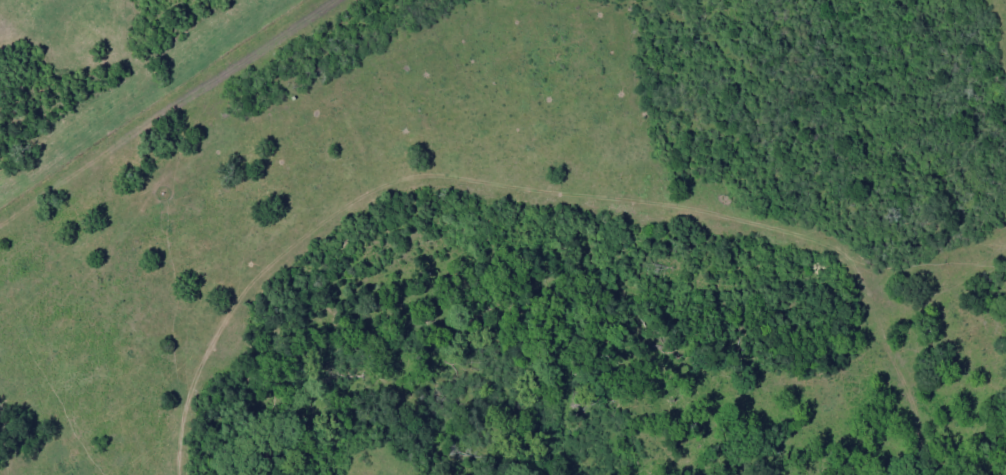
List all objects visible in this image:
road: (94, 35)

